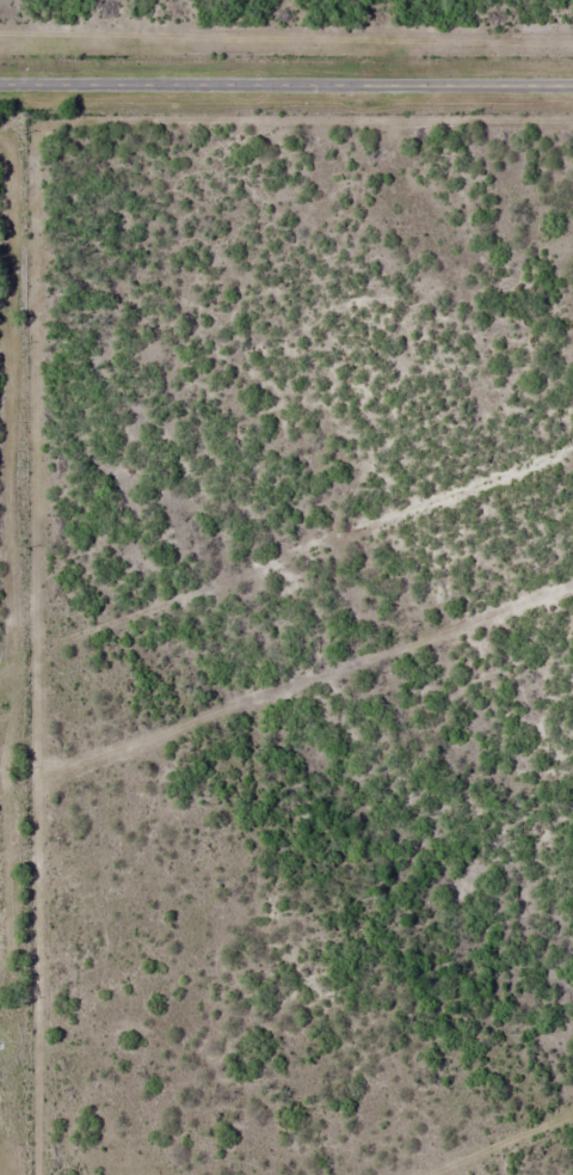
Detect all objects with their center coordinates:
road: (286, 85)

